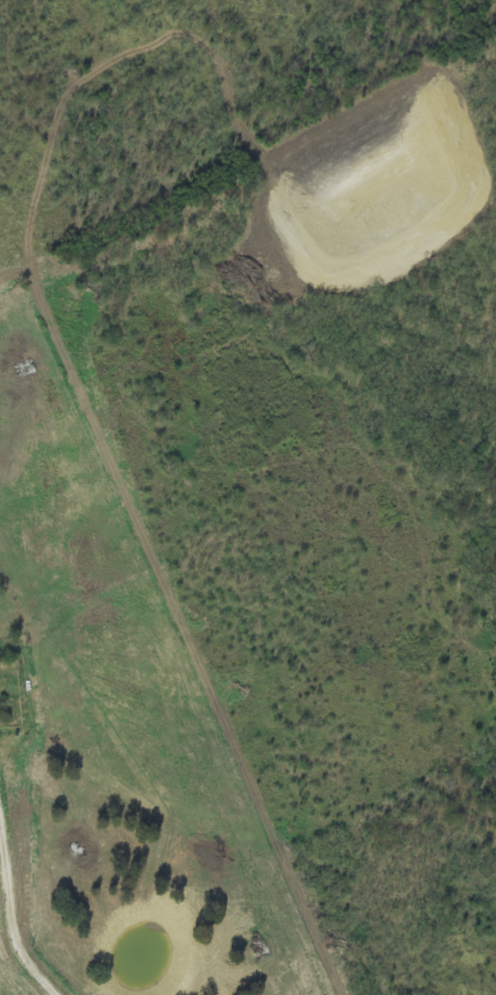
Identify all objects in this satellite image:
road: (254, 661)

